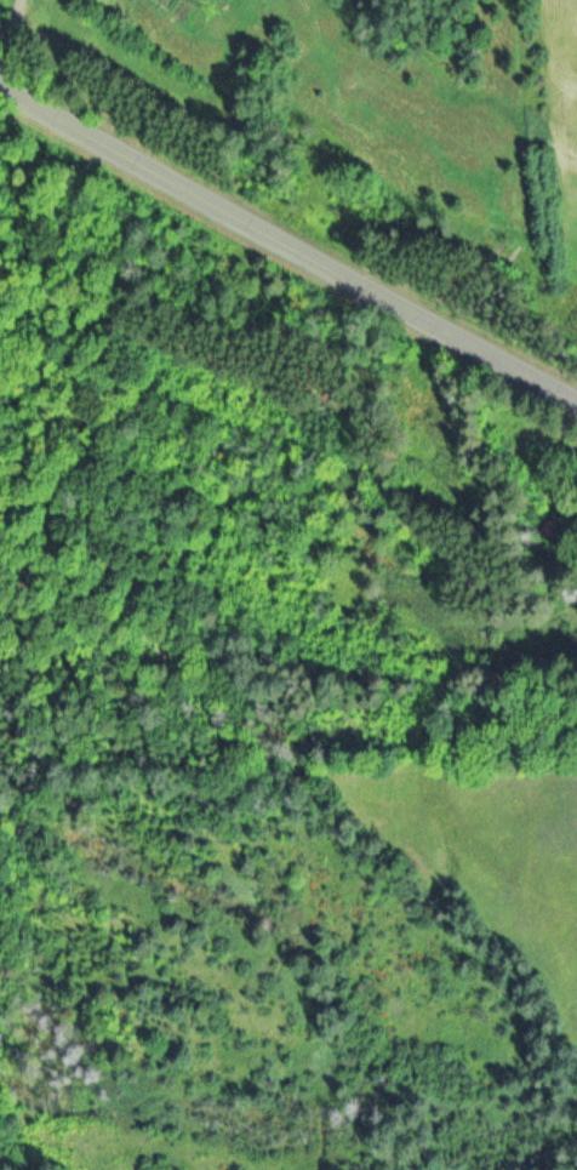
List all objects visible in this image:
road: (4, 17)
road: (288, 233)

